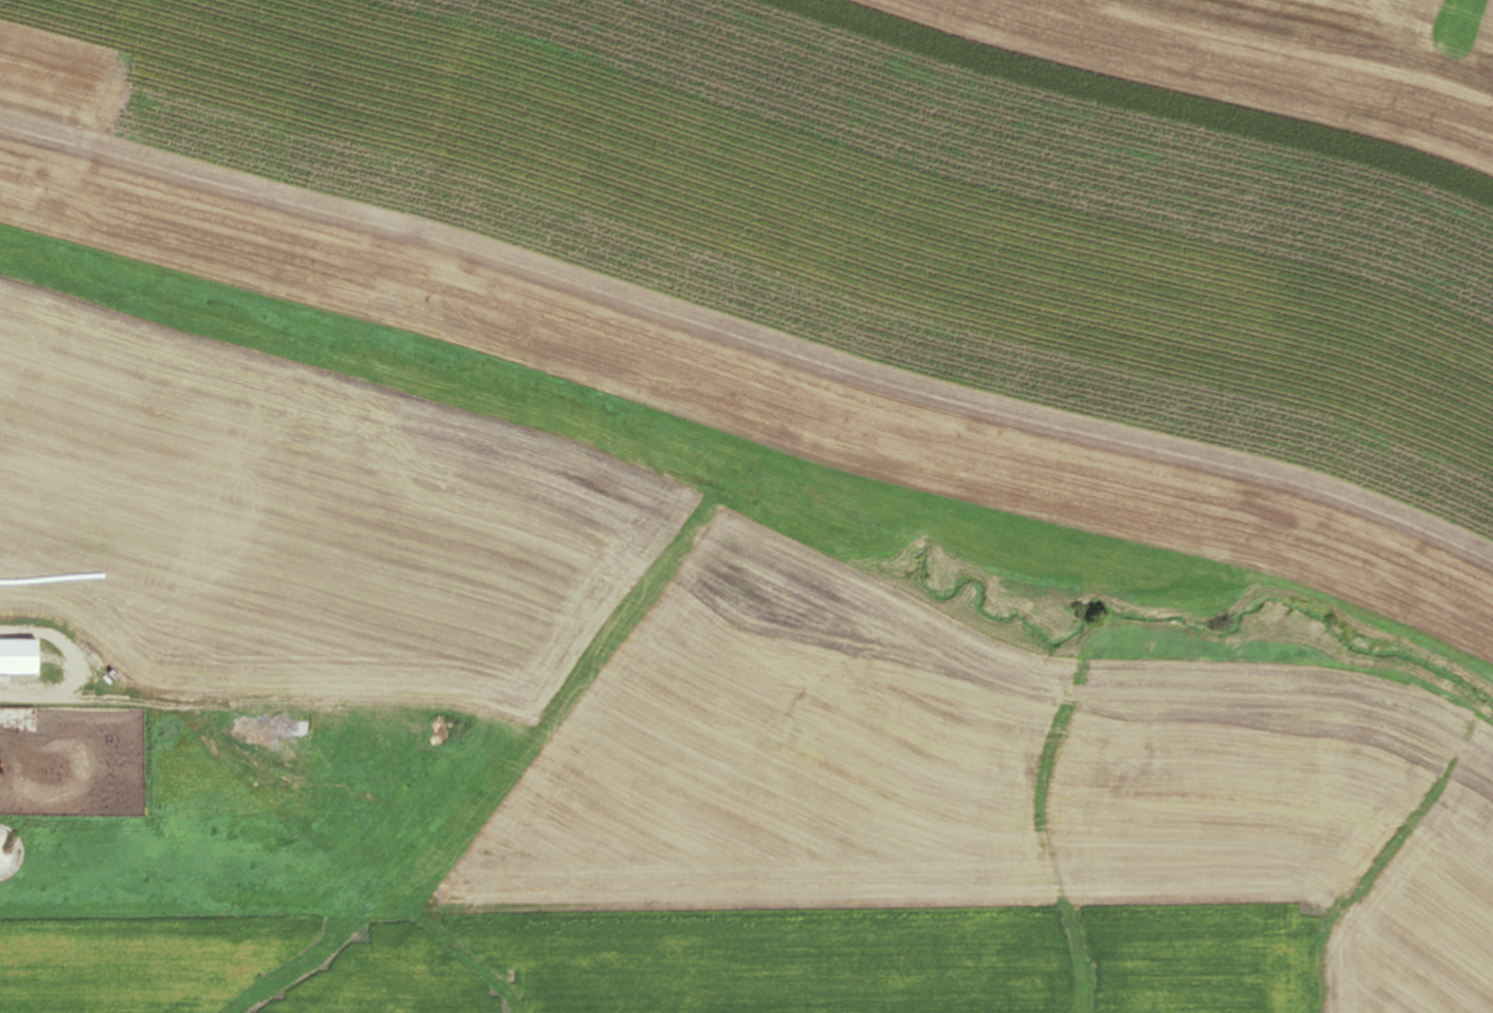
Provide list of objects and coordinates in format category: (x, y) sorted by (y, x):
building: (18, 657)

